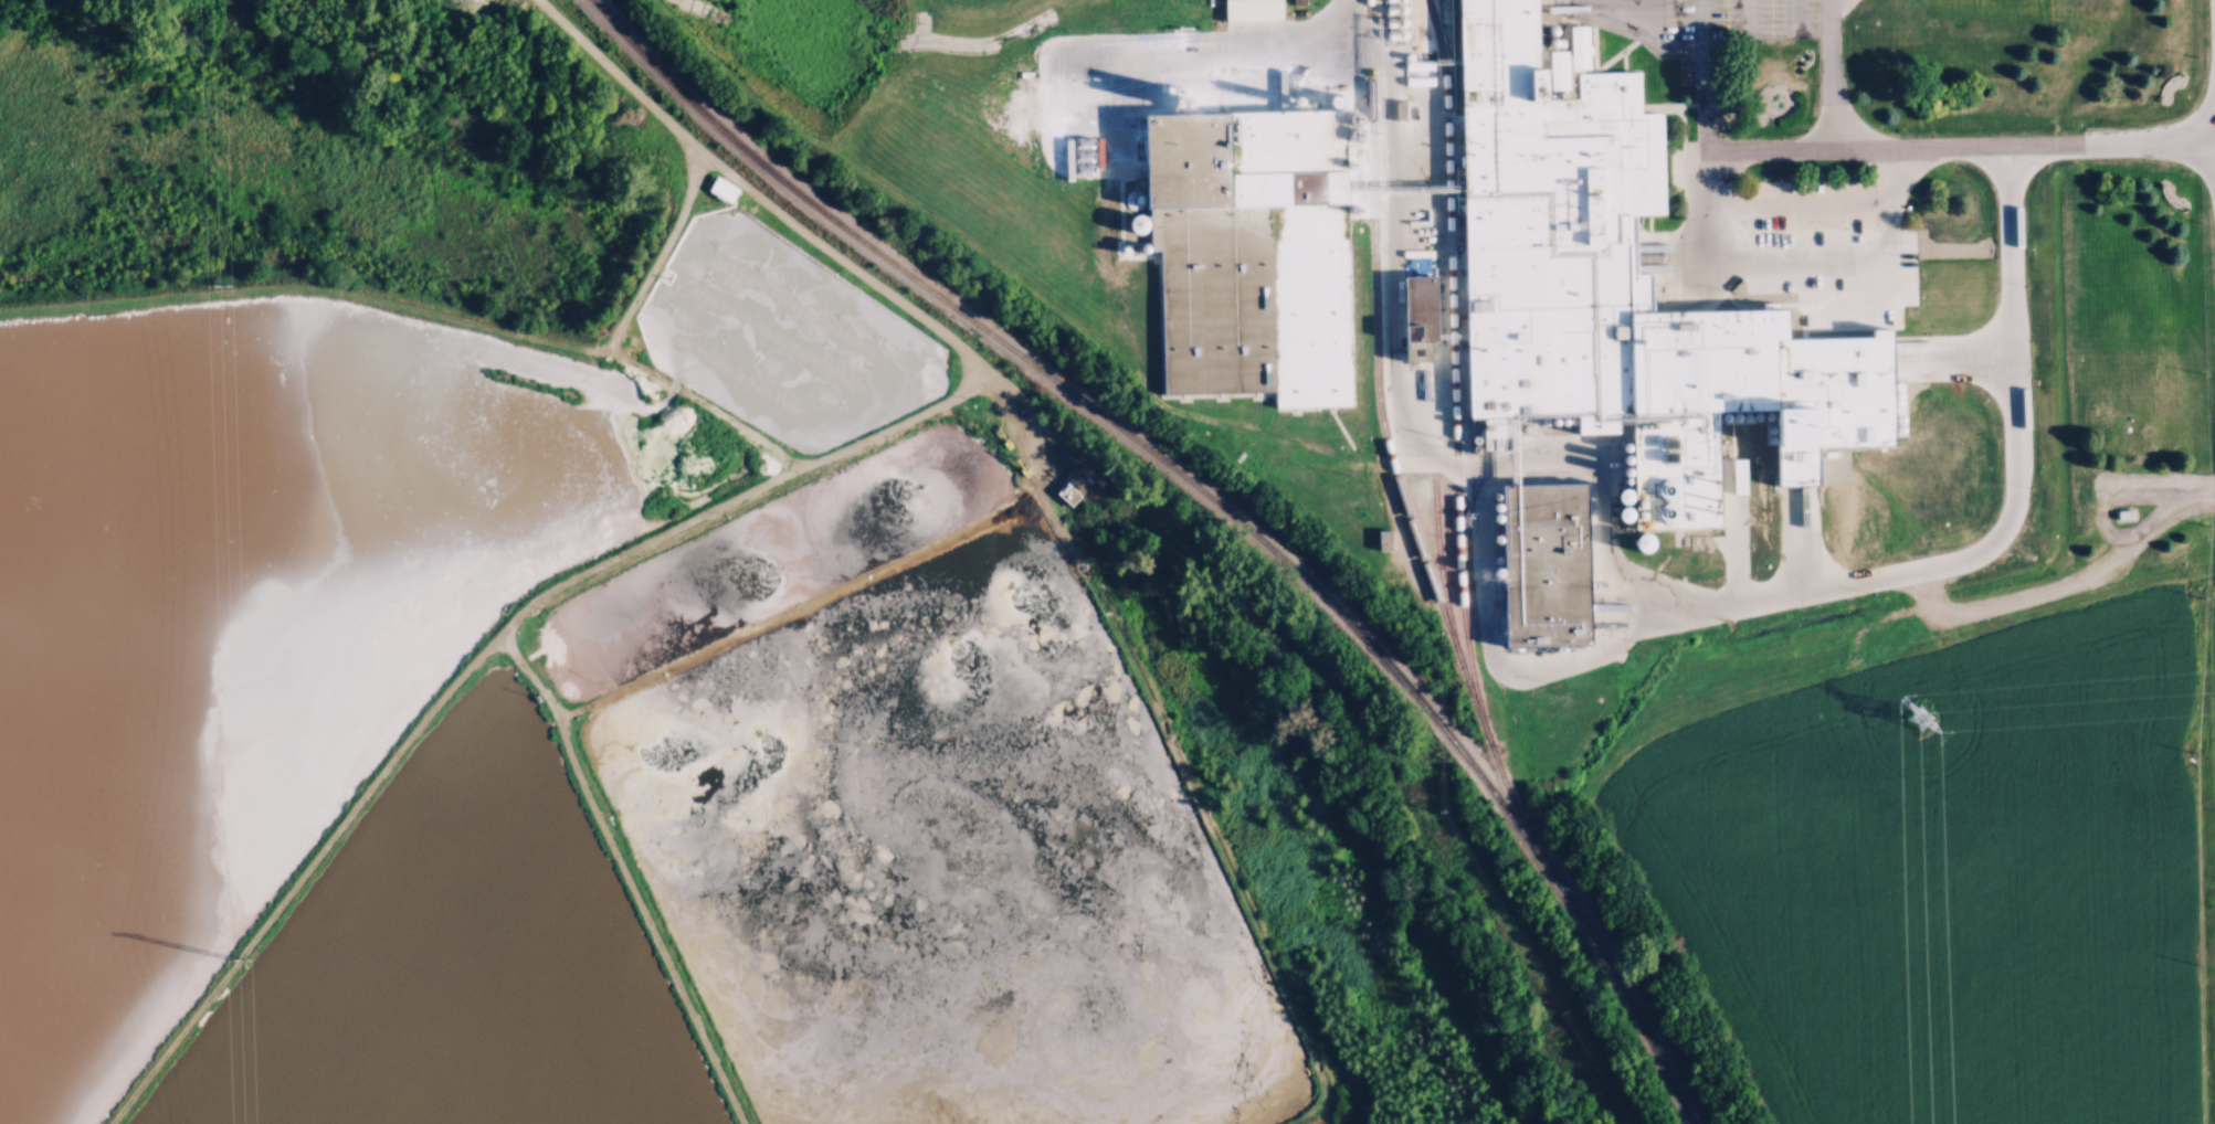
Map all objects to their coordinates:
building: (1251, 9)
road: (1228, 71)
road: (1828, 74)
street lamp: (2139, 120)
street lamp: (1930, 129)
street lamp: (1724, 134)
road: (1881, 148)
building: (719, 189)
road: (1797, 202)
building: (2158, 203)
building: (1576, 250)
building: (1248, 252)
road: (1743, 262)
power tower: (232, 276)
road: (307, 287)
building: (1417, 316)
road: (1838, 340)
road: (609, 348)
railway: (1455, 371)
road: (1396, 377)
railway: (1392, 468)
building: (1075, 484)
road: (1031, 492)
railway: (1211, 498)
building: (2123, 513)
building: (1543, 564)
railway: (1442, 573)
road: (795, 608)
road: (1648, 623)
road: (475, 653)
power tower: (1920, 714)
road: (623, 870)
power tower: (260, 950)

